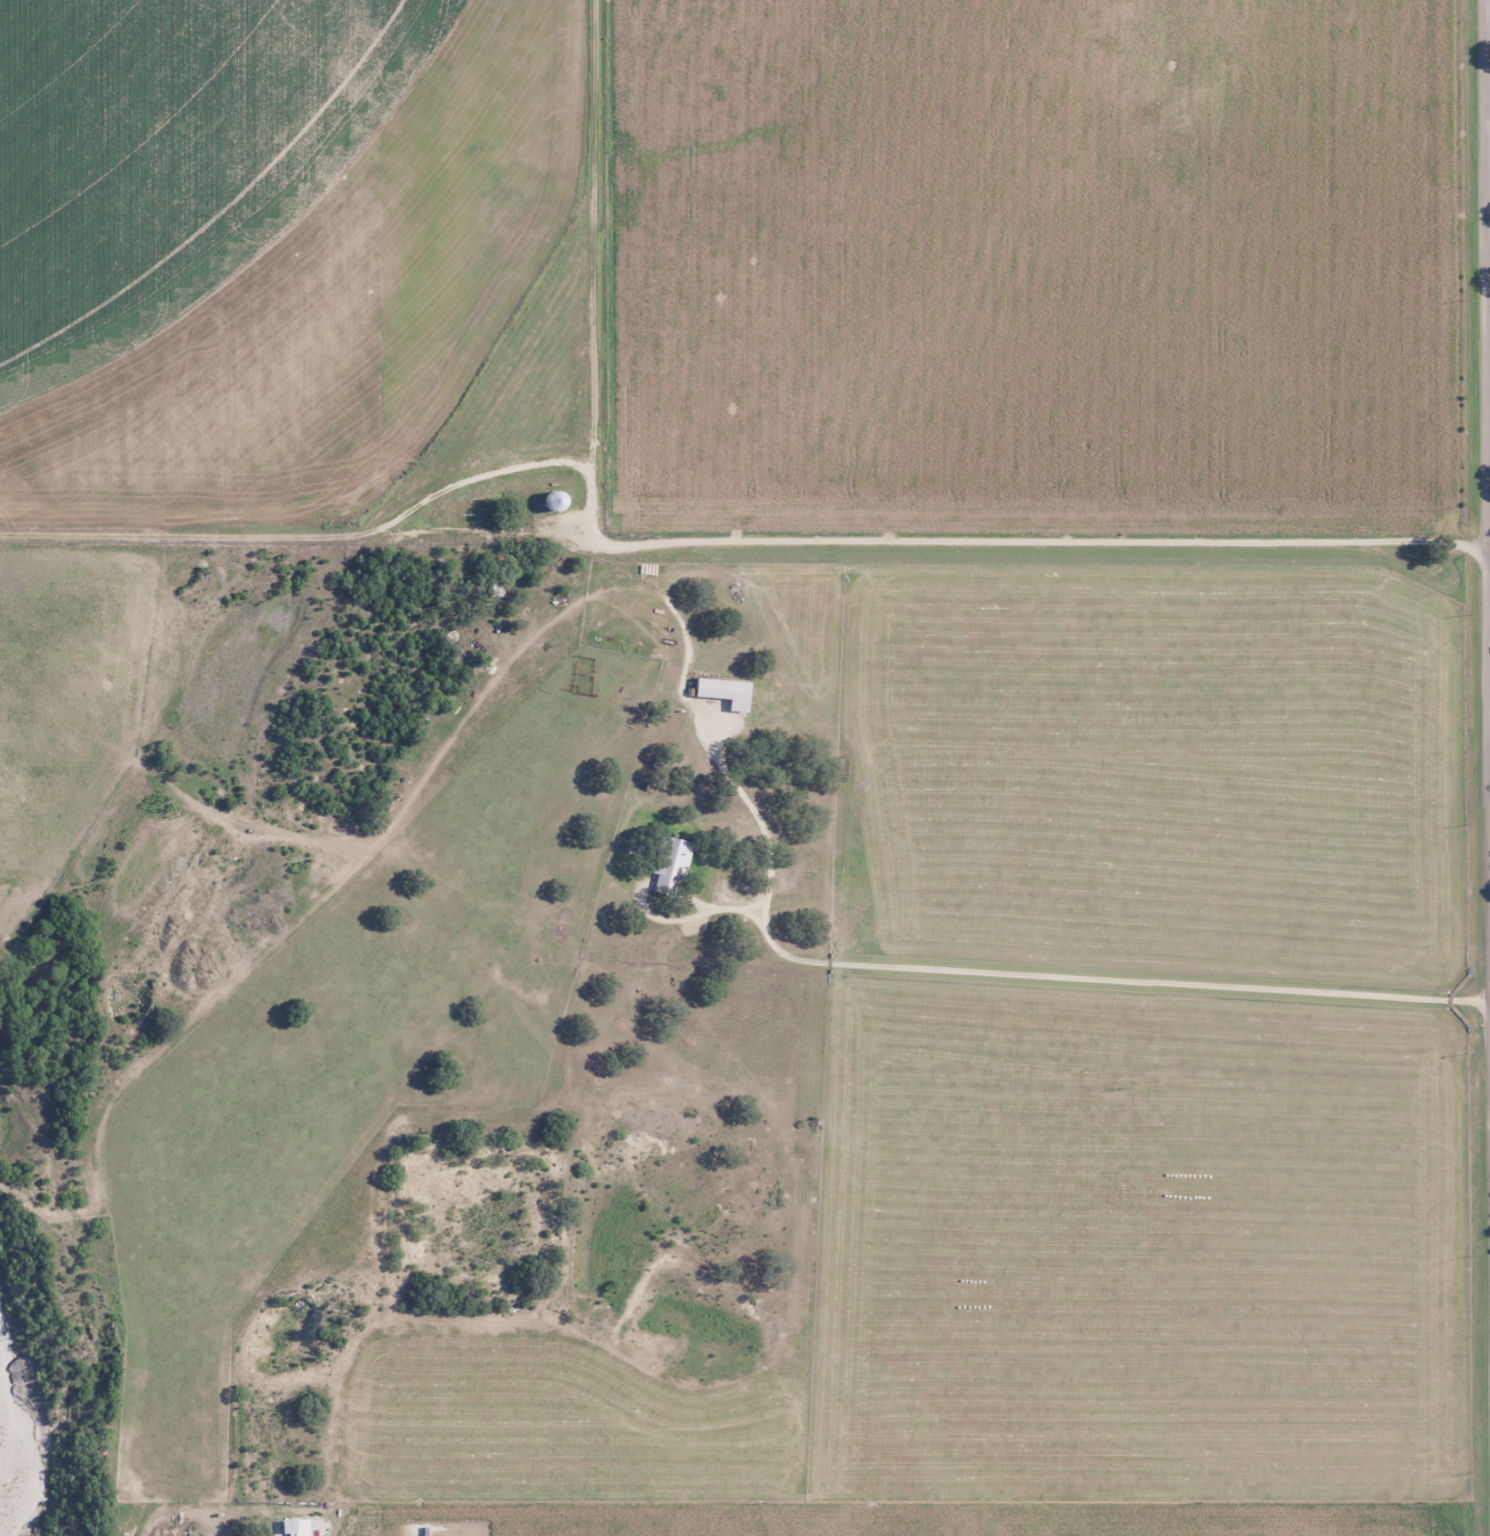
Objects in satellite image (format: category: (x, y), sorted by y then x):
road: (605, 275)
road: (1486, 459)
road: (663, 550)
building: (723, 692)
building: (669, 866)
road: (1010, 978)

